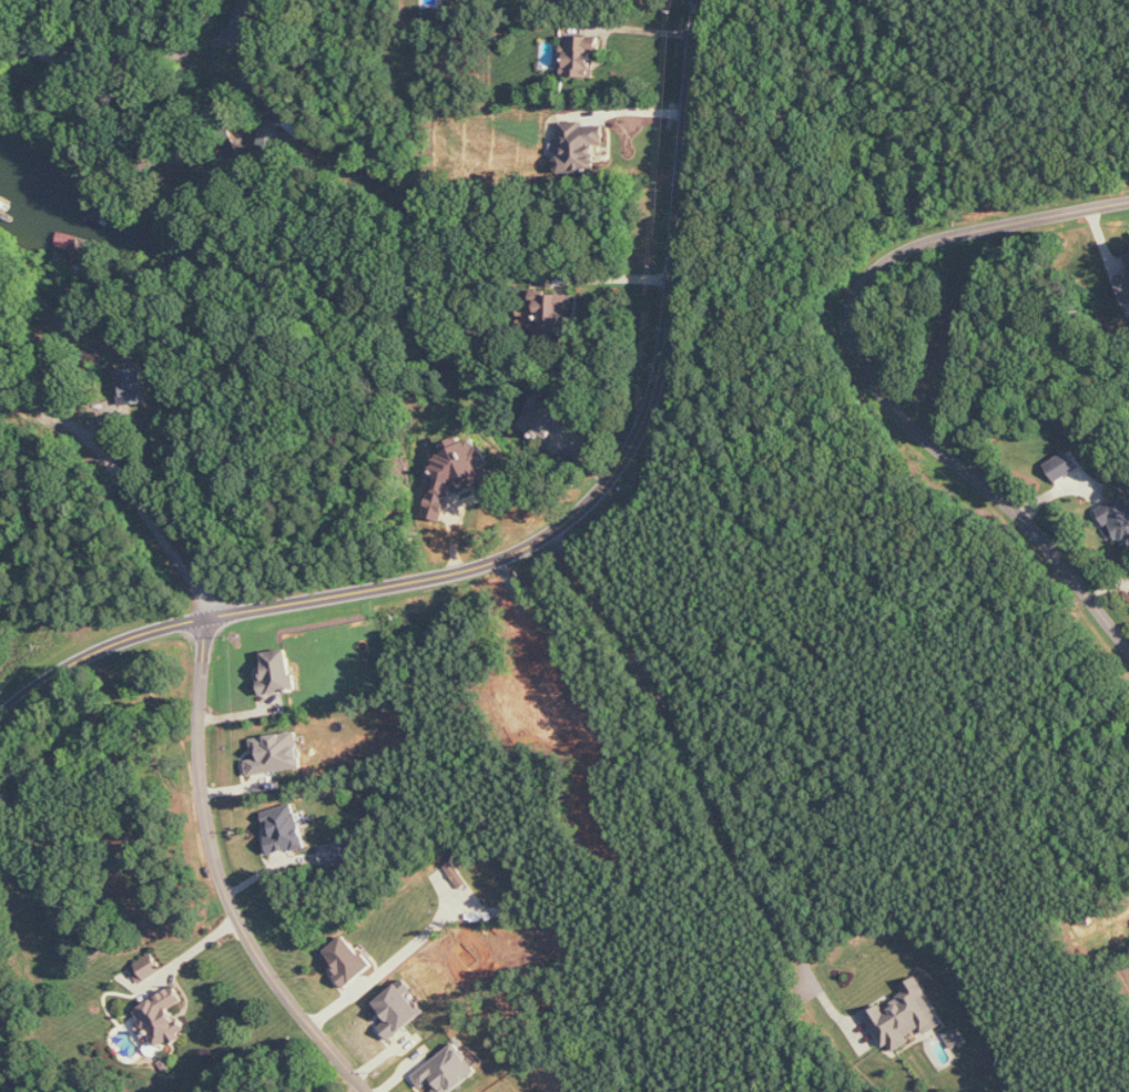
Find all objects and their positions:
road: (241, 17)
road: (640, 29)
building: (582, 55)
building: (272, 132)
building: (69, 242)
building: (1128, 255)
road: (617, 277)
building: (1125, 286)
building: (555, 314)
road: (881, 382)
building: (133, 387)
building: (551, 421)
building: (1064, 465)
building: (457, 474)
road: (122, 488)
building: (1119, 520)
road: (543, 535)
building: (277, 672)
building: (276, 754)
road: (711, 775)
road: (153, 790)
building: (285, 834)
building: (335, 854)
building: (457, 875)
road: (224, 877)
road: (192, 953)
building: (347, 960)
road: (389, 963)
building: (148, 969)
building: (399, 1009)
building: (905, 1017)
building: (164, 1018)
building: (955, 1038)
building: (447, 1071)

